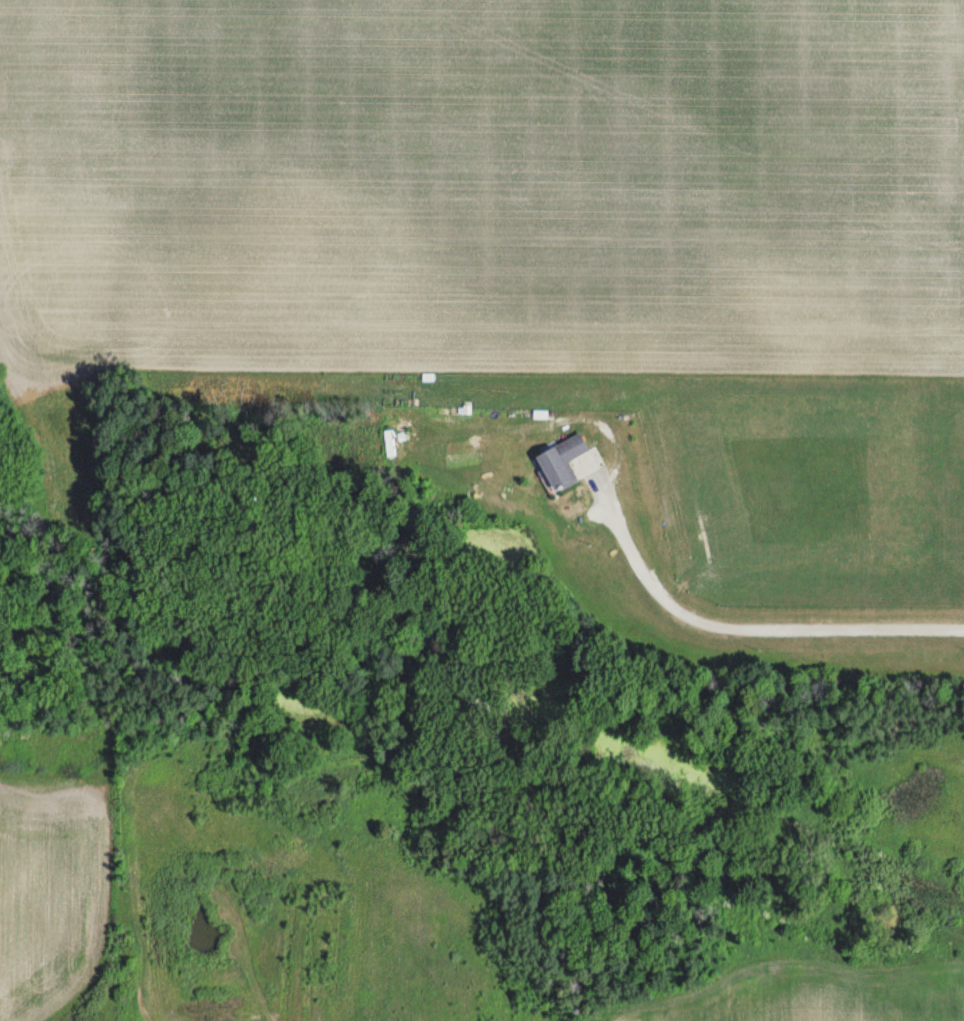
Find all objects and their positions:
building: (562, 462)

